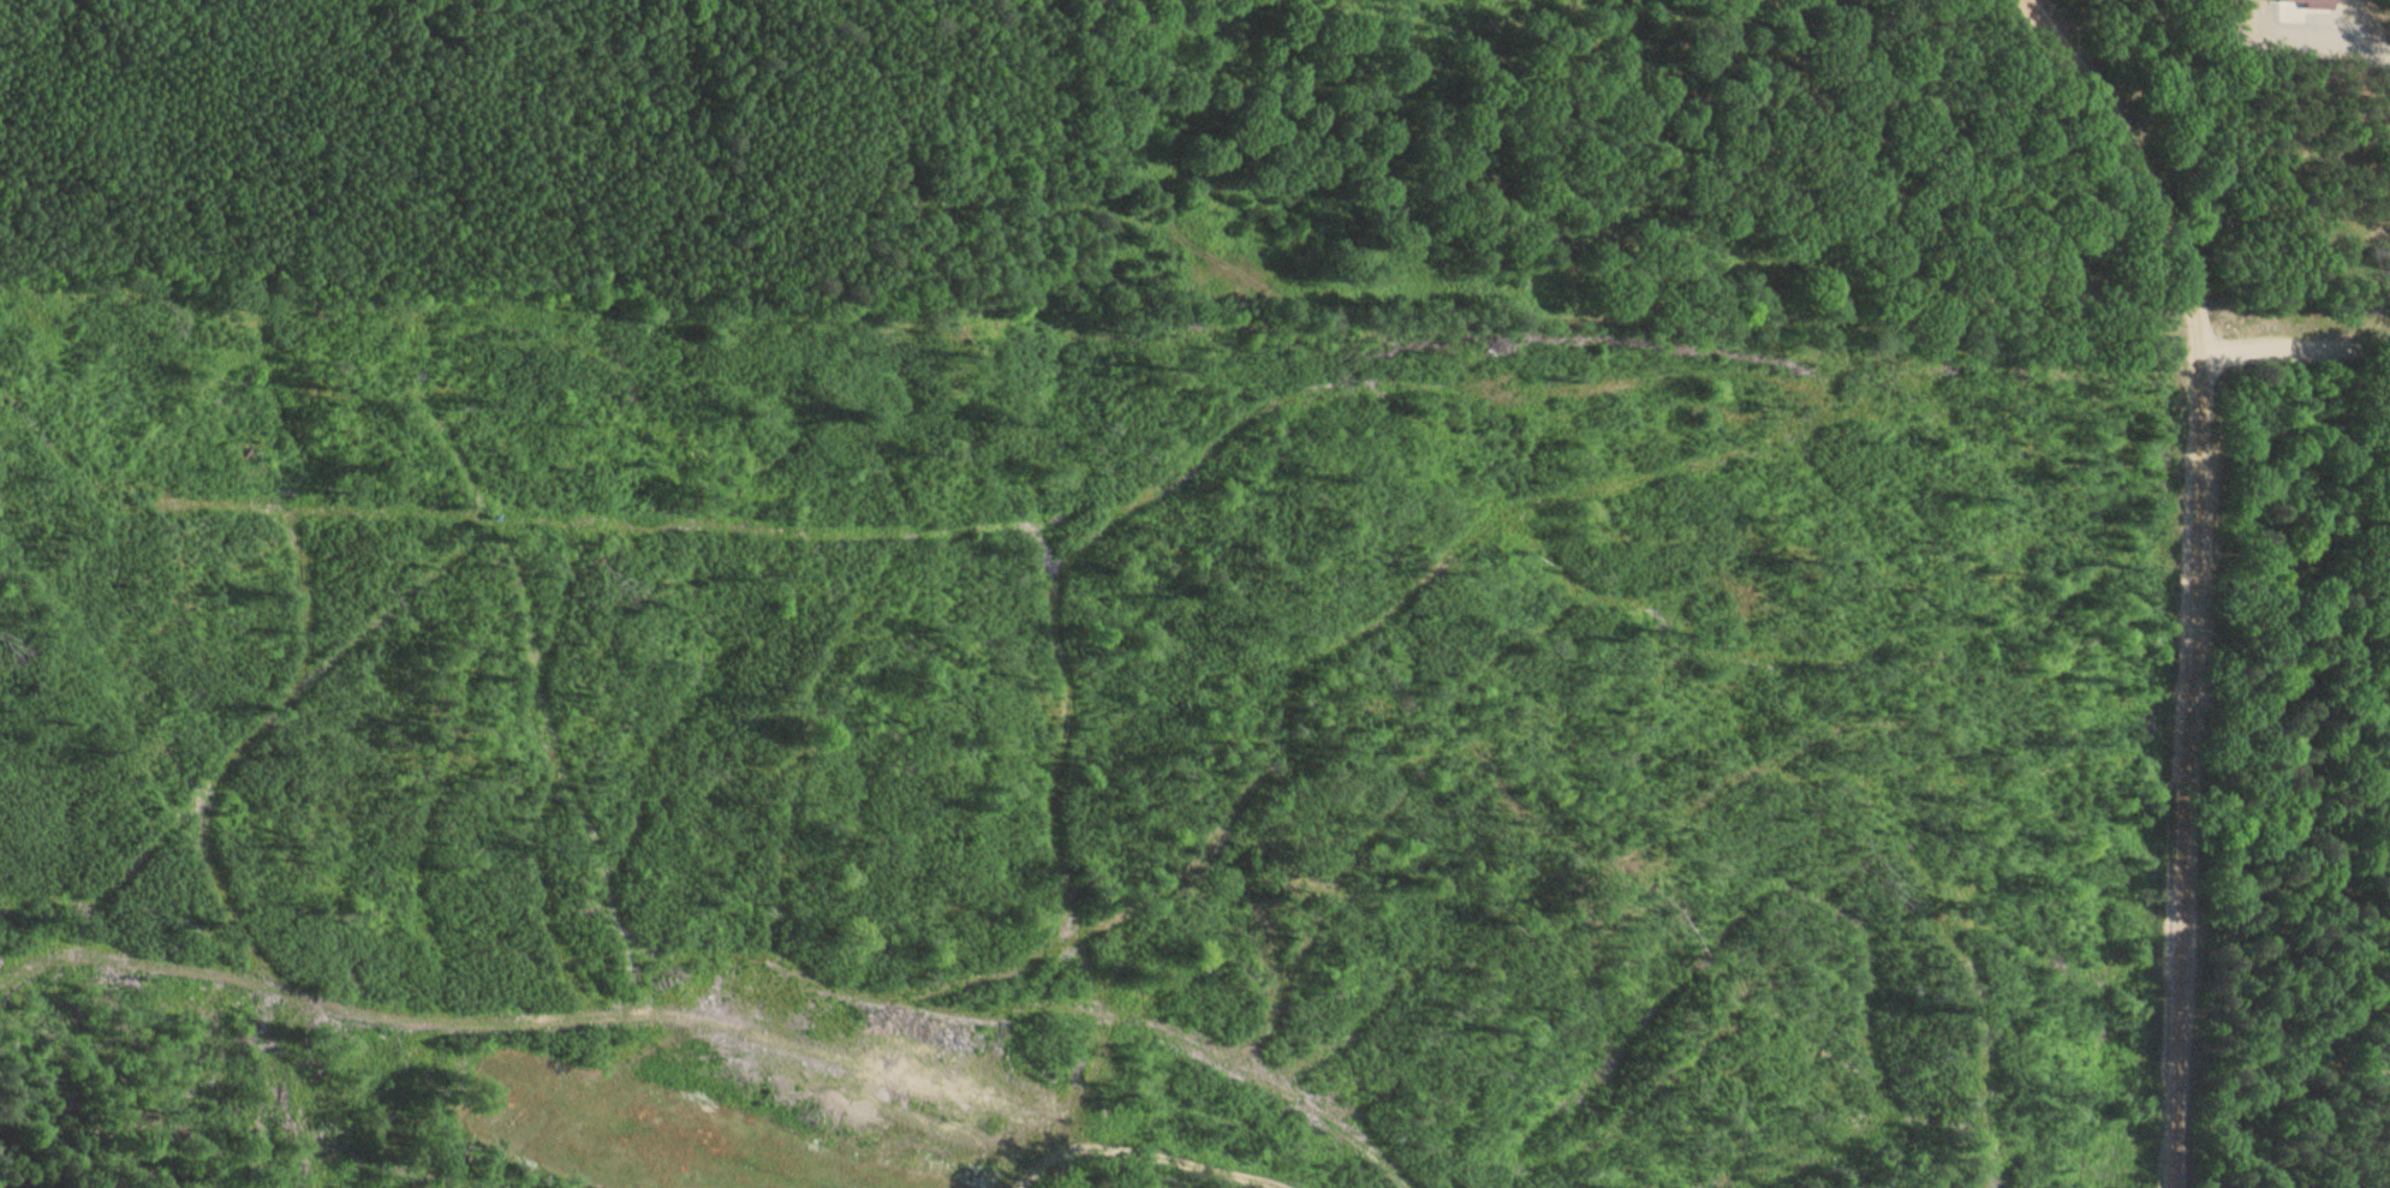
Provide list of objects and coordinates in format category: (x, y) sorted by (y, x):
road: (2293, 346)
road: (2189, 571)
quarry: (2054, 1163)

